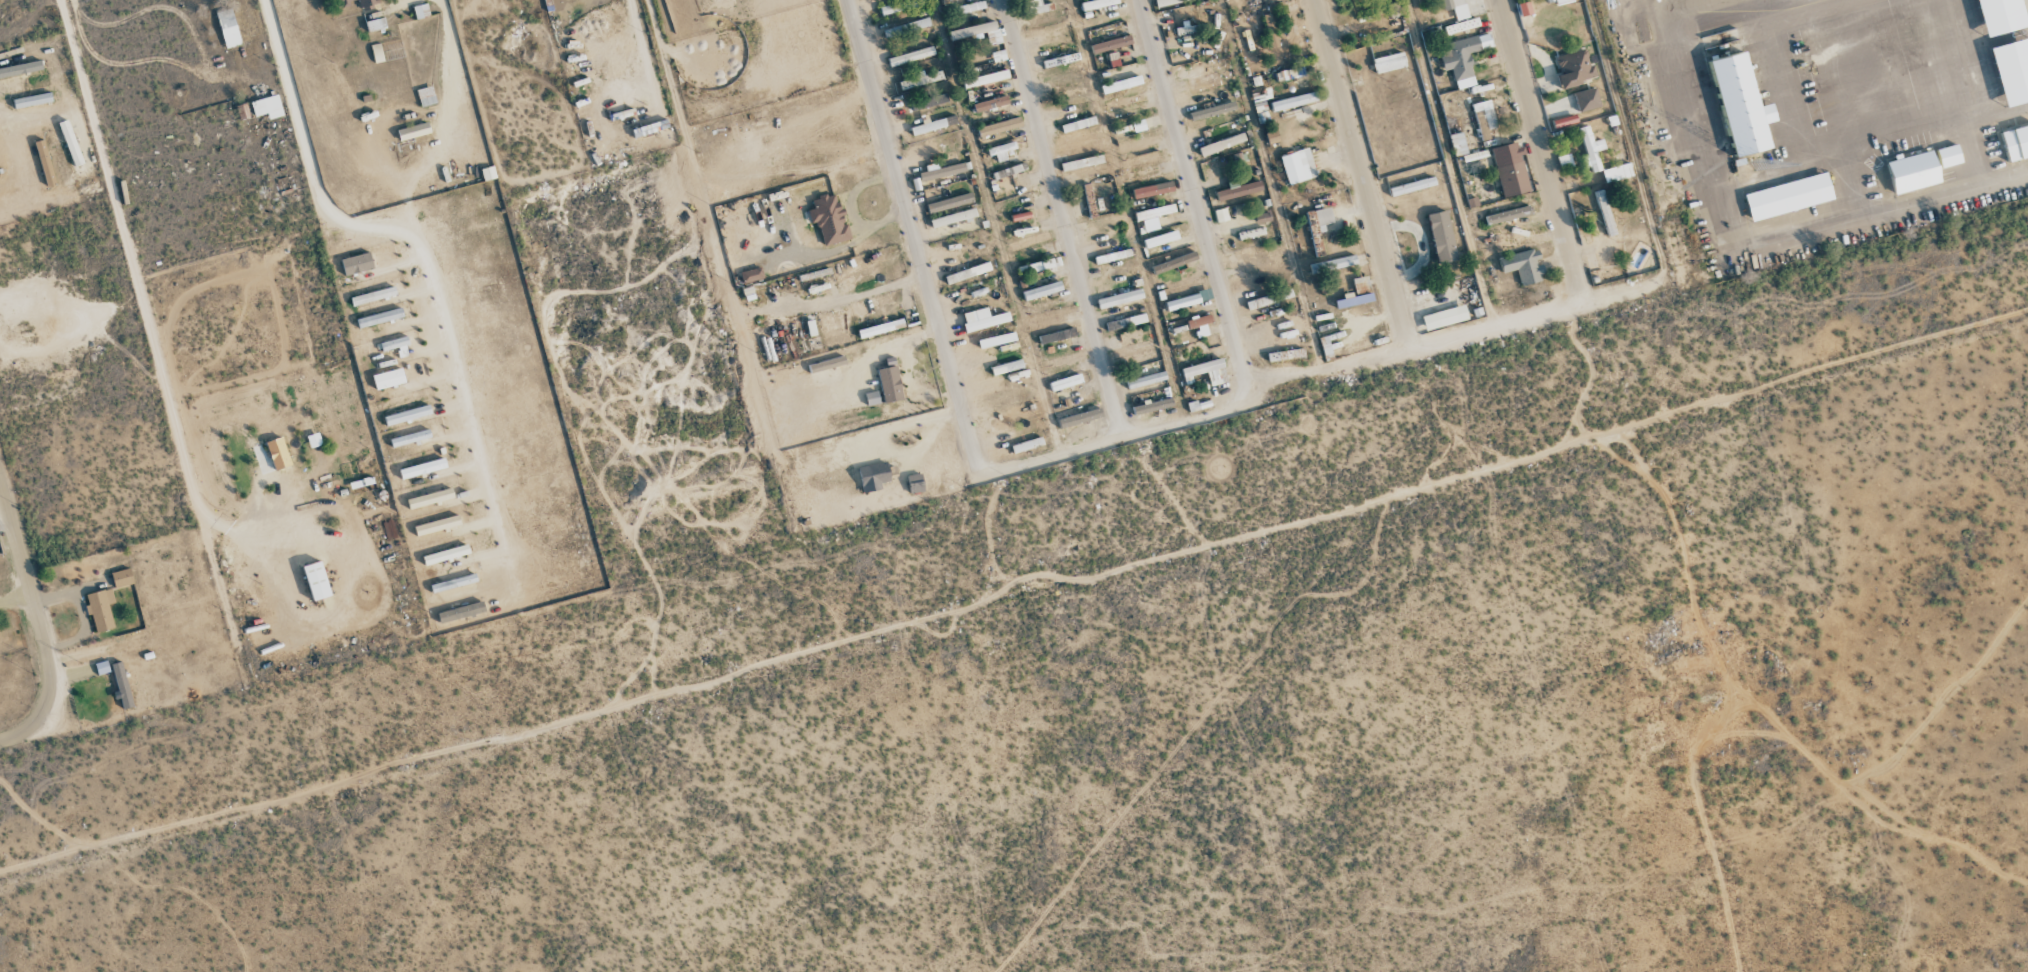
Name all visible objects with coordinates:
building: (1562, 1)
building: (360, 2)
building: (1168, 2)
building: (1097, 4)
building: (900, 6)
building: (1038, 6)
building: (969, 7)
building: (1457, 7)
building: (1524, 8)
building: (420, 10)
building: (2000, 16)
building: (1098, 22)
building: (375, 24)
building: (1461, 26)
building: (907, 27)
building: (228, 28)
building: (1270, 29)
building: (978, 32)
building: (1110, 44)
building: (910, 56)
building: (1462, 57)
building: (1060, 60)
building: (1389, 62)
road: (448, 67)
building: (20, 68)
building: (1575, 68)
building: (2012, 71)
building: (1203, 78)
building: (920, 79)
building: (1120, 84)
building: (425, 96)
building: (1587, 99)
building: (32, 100)
building: (1125, 101)
building: (1292, 101)
building: (990, 103)
building: (1741, 104)
building: (267, 107)
building: (1212, 111)
building: (1483, 119)
building: (932, 125)
building: (1138, 125)
building: (999, 126)
building: (412, 131)
building: (70, 142)
building: (2015, 143)
building: (1139, 144)
building: (1221, 144)
building: (1457, 144)
building: (1591, 149)
building: (1001, 150)
road: (1541, 152)
building: (1238, 159)
building: (1144, 160)
building: (1564, 161)
building: (45, 163)
building: (1081, 163)
building: (1297, 165)
building: (1510, 169)
building: (940, 171)
building: (1617, 172)
building: (1913, 172)
building: (488, 173)
road: (1363, 175)
building: (1003, 178)
building: (1152, 190)
building: (1238, 190)
building: (1788, 196)
road: (1196, 198)
building: (949, 202)
building: (1154, 212)
building: (1220, 215)
building: (1508, 215)
building: (952, 217)
road: (1061, 218)
building: (829, 219)
building: (1319, 219)
building: (1441, 237)
road: (1740, 237)
building: (1160, 239)
building: (1030, 241)
road: (913, 252)
building: (1173, 262)
building: (356, 263)
building: (1333, 264)
building: (1523, 265)
building: (1039, 266)
building: (967, 273)
building: (750, 275)
building: (1361, 285)
building: (1042, 290)
building: (747, 293)
building: (373, 296)
building: (1119, 298)
building: (1353, 300)
building: (1182, 302)
building: (379, 317)
building: (1444, 317)
building: (982, 319)
building: (1198, 321)
building: (1125, 322)
building: (810, 328)
building: (880, 328)
road: (155, 335)
building: (1056, 336)
building: (996, 340)
building: (394, 343)
building: (1329, 344)
building: (1133, 349)
building: (1285, 355)
building: (1064, 359)
building: (826, 364)
building: (1006, 367)
building: (1205, 372)
road: (1319, 376)
building: (387, 379)
building: (1146, 380)
building: (1065, 382)
building: (889, 384)
building: (1152, 406)
building: (407, 415)
building: (1079, 418)
building: (410, 438)
building: (313, 440)
building: (1022, 445)
building: (278, 453)
building: (422, 468)
building: (873, 477)
building: (915, 483)
building: (429, 499)
building: (436, 526)
building: (445, 555)
road: (22, 560)
building: (121, 578)
building: (316, 581)
building: (100, 609)
building: (101, 667)
building: (122, 686)
road: (45, 703)

